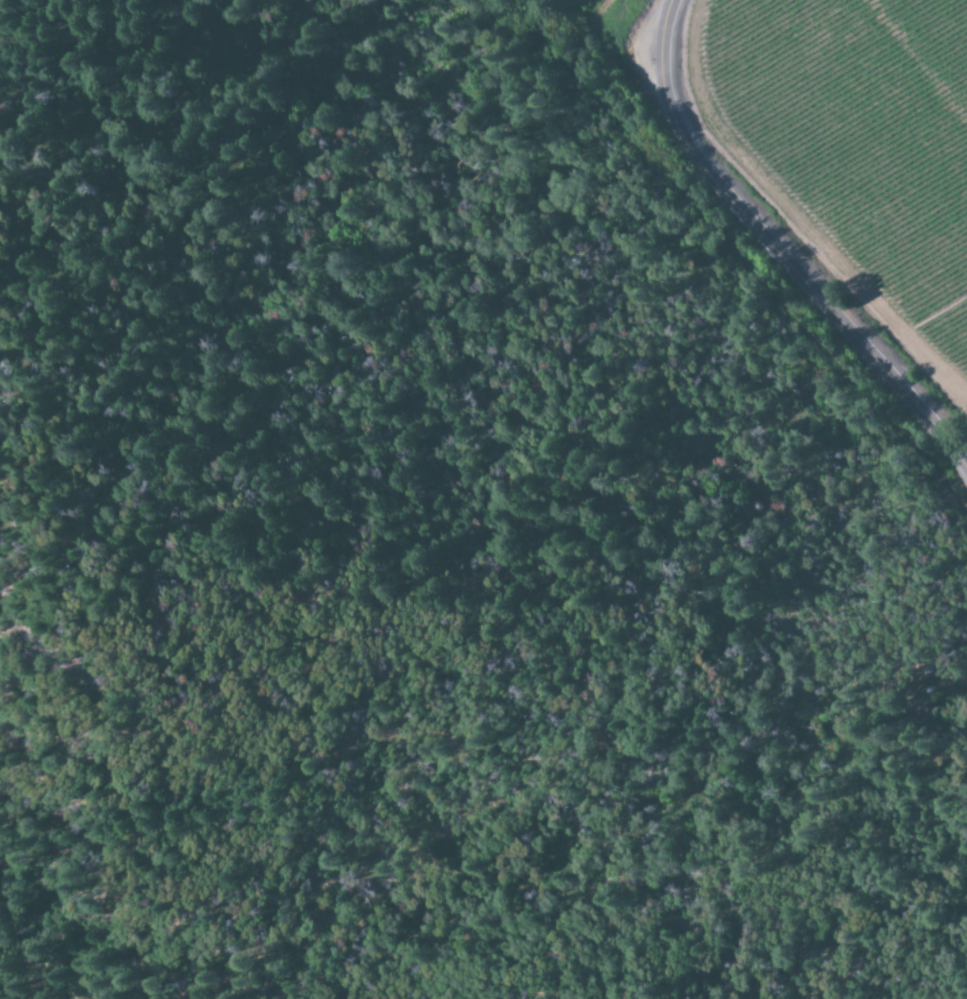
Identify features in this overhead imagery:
road: (775, 251)

